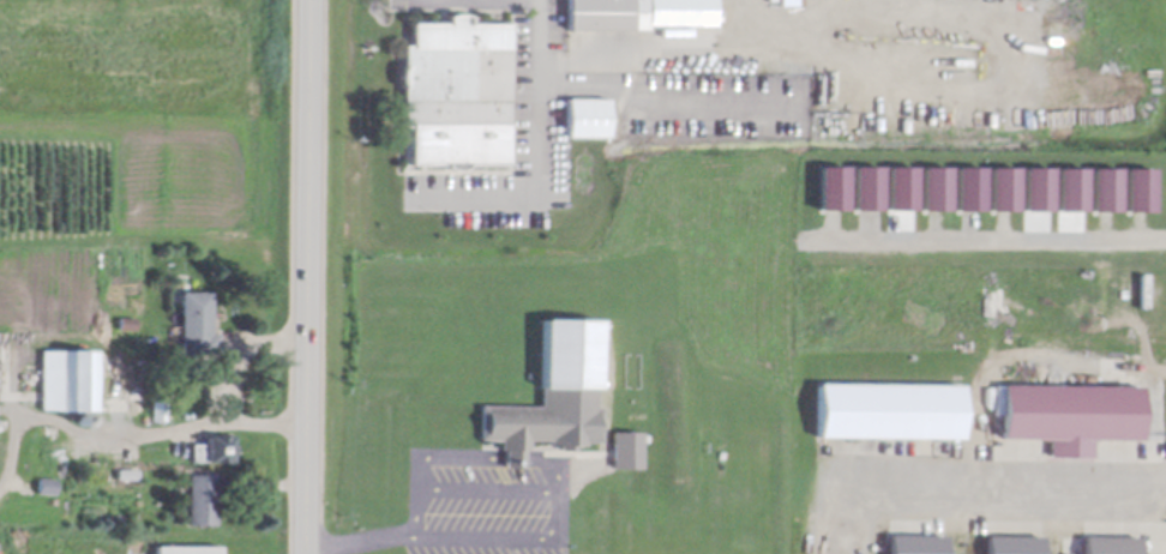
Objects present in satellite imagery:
building: (639, 10)
building: (457, 66)
building: (588, 110)
road: (539, 147)
building: (933, 188)
building: (968, 188)
building: (1003, 188)
building: (1038, 188)
building: (1070, 189)
building: (1105, 189)
building: (1138, 189)
road: (996, 235)
road: (302, 276)
building: (127, 319)
building: (198, 319)
road: (236, 354)
building: (68, 373)
building: (106, 381)
building: (555, 389)
building: (888, 403)
building: (158, 405)
building: (1070, 409)
building: (82, 416)
road: (149, 434)
building: (48, 442)
building: (212, 442)
building: (630, 445)
road: (12, 453)
building: (121, 464)
building: (134, 466)
road: (1011, 480)
building: (47, 482)
road: (558, 490)
building: (204, 493)
road: (360, 541)
building: (916, 541)
building: (1014, 542)
building: (1111, 542)
building: (187, 547)

